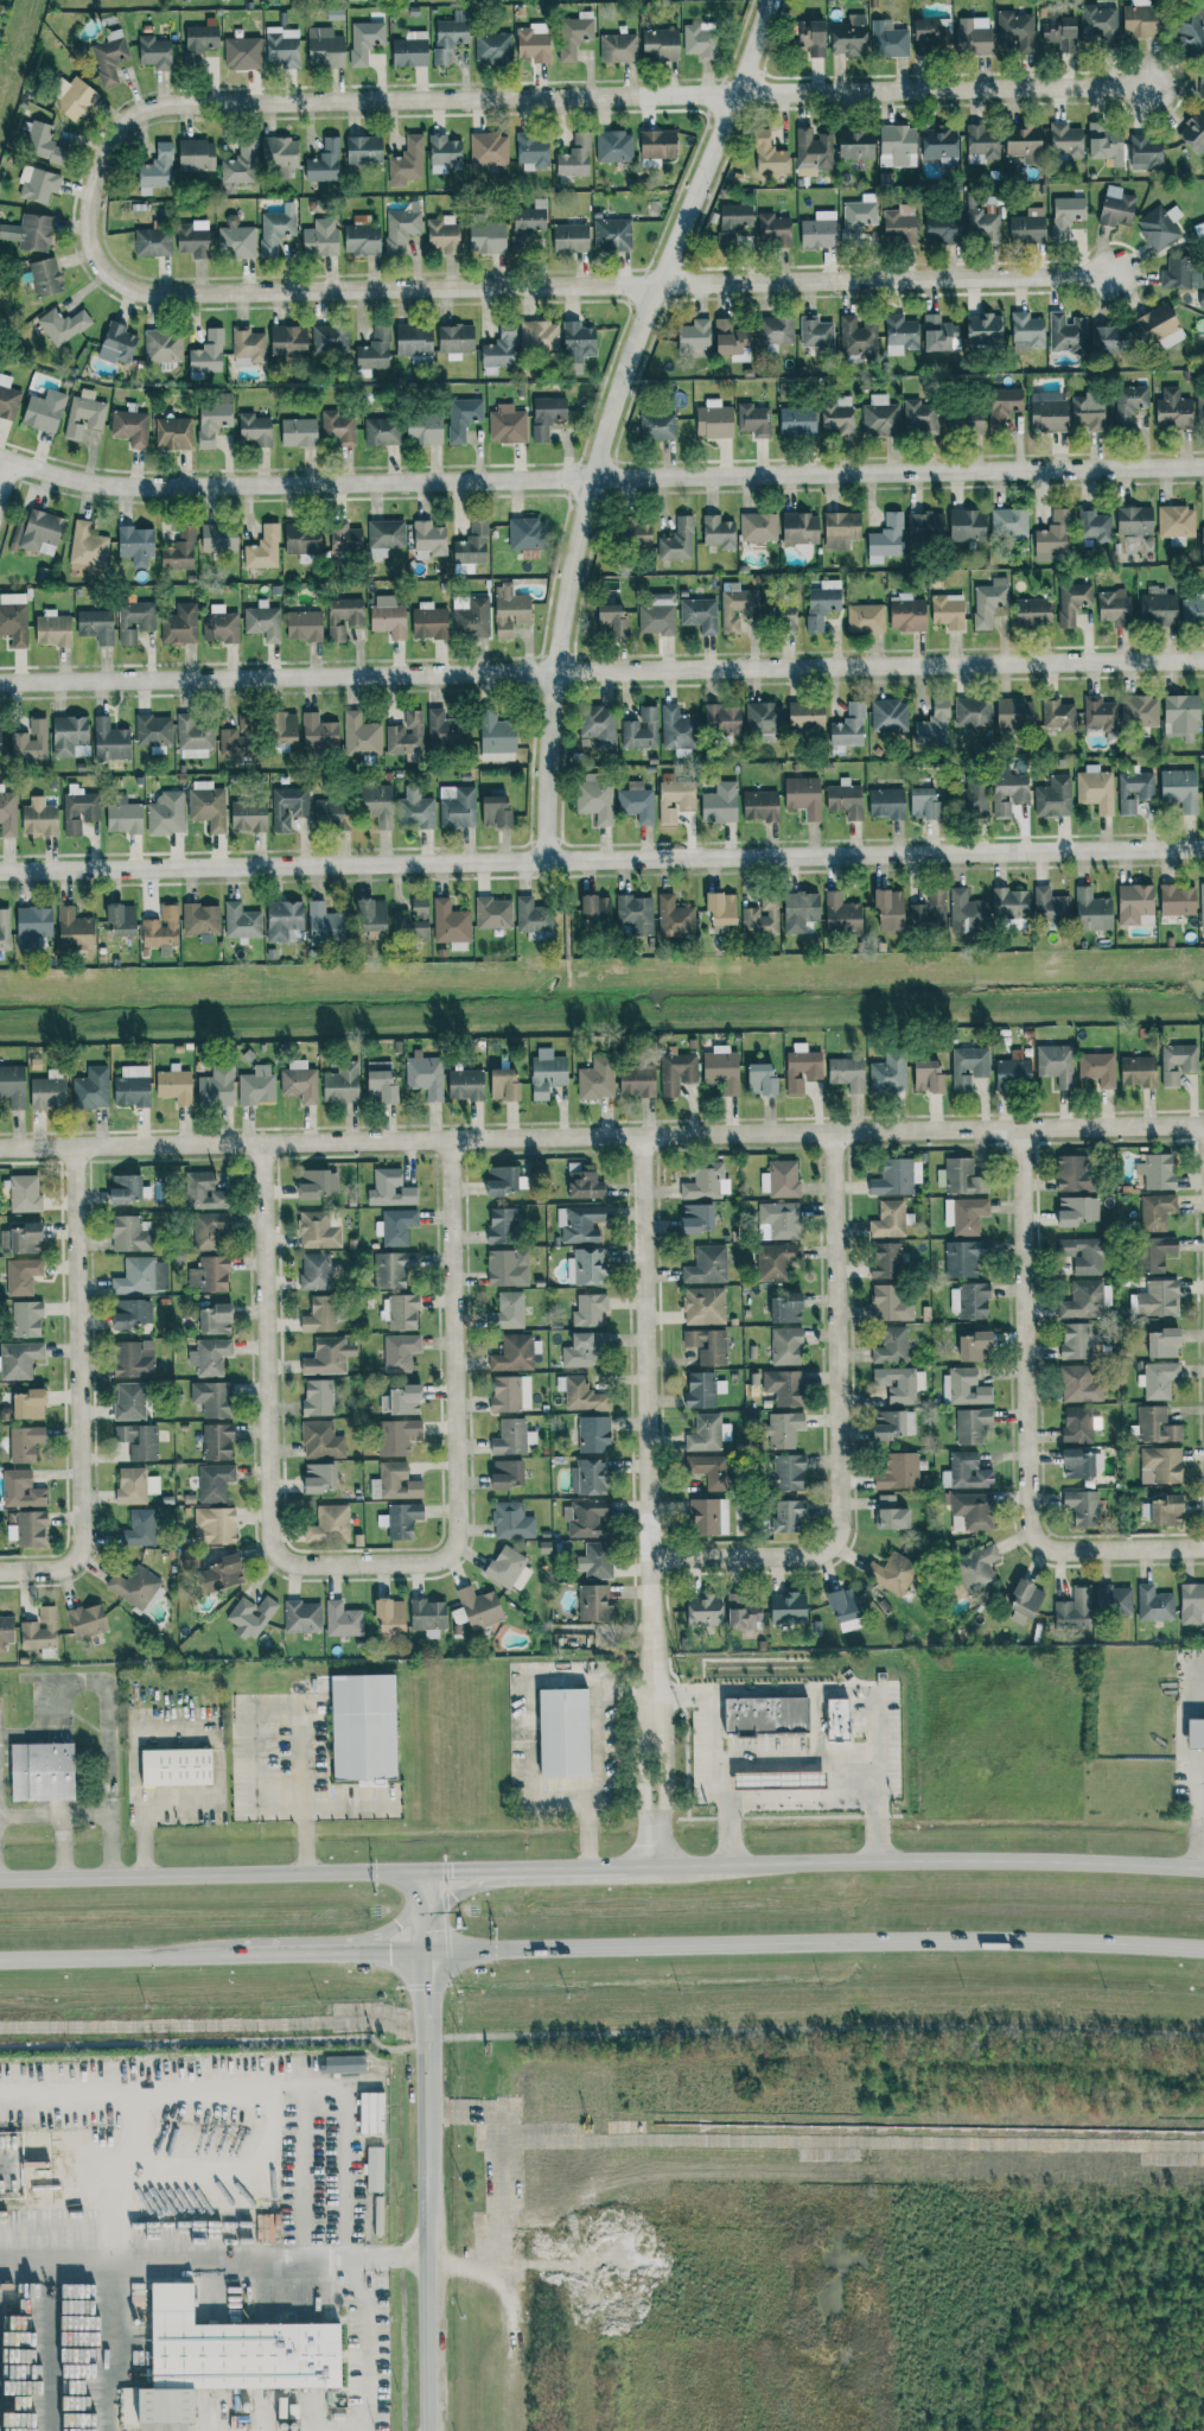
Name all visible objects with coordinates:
building: (1140, 19)
building: (1098, 24)
building: (1017, 30)
building: (1060, 32)
building: (1191, 32)
building: (928, 34)
building: (849, 36)
building: (450, 37)
building: (573, 37)
building: (810, 37)
building: (200, 38)
building: (973, 38)
building: (888, 39)
building: (364, 40)
building: (700, 40)
building: (660, 45)
building: (282, 46)
building: (492, 46)
building: (533, 46)
building: (325, 47)
building: (618, 47)
building: (154, 52)
building: (242, 52)
building: (409, 52)
building: (108, 58)
building: (1202, 80)
road: (945, 89)
building: (74, 97)
road: (393, 100)
building: (1193, 132)
building: (1065, 140)
building: (1104, 142)
building: (44, 144)
building: (657, 144)
building: (981, 144)
building: (1024, 144)
building: (855, 145)
building: (897, 145)
building: (941, 145)
building: (614, 146)
building: (489, 148)
building: (363, 150)
building: (533, 152)
building: (811, 152)
building: (1145, 152)
building: (280, 153)
building: (444, 153)
building: (195, 154)
building: (769, 154)
building: (575, 157)
building: (407, 161)
building: (324, 163)
building: (236, 169)
building: (157, 170)
building: (38, 185)
building: (1116, 207)
building: (1066, 215)
building: (859, 216)
building: (735, 217)
building: (530, 218)
building: (899, 224)
building: (982, 226)
building: (1027, 227)
building: (1159, 227)
building: (276, 229)
building: (400, 229)
building: (773, 229)
building: (942, 229)
building: (818, 230)
building: (30, 233)
building: (442, 233)
building: (613, 234)
building: (320, 237)
building: (488, 237)
building: (571, 237)
building: (192, 239)
building: (362, 239)
building: (153, 242)
building: (236, 242)
building: (1181, 273)
building: (45, 277)
road: (885, 280)
road: (331, 291)
building: (62, 325)
building: (1160, 326)
building: (983, 329)
building: (775, 330)
building: (1026, 331)
building: (1066, 332)
building: (816, 334)
building: (936, 334)
building: (900, 335)
building: (694, 336)
building: (539, 337)
building: (858, 337)
building: (330, 338)
building: (1109, 338)
building: (413, 339)
building: (288, 341)
building: (456, 341)
building: (731, 341)
building: (117, 343)
building: (576, 344)
building: (163, 345)
building: (248, 345)
building: (375, 349)
building: (498, 351)
building: (208, 353)
building: (8, 398)
building: (1129, 402)
building: (1004, 406)
building: (1200, 408)
building: (1173, 410)
building: (44, 411)
building: (1047, 411)
building: (1089, 411)
building: (84, 414)
building: (547, 415)
building: (836, 415)
building: (918, 415)
building: (463, 417)
building: (880, 417)
road: (611, 419)
building: (754, 419)
building: (214, 420)
building: (714, 420)
building: (797, 421)
building: (964, 421)
building: (508, 424)
building: (130, 426)
building: (657, 426)
building: (338, 427)
building: (255, 429)
building: (423, 429)
building: (382, 431)
building: (298, 432)
building: (173, 433)
road: (599, 475)
road: (7, 484)
building: (1134, 521)
building: (1176, 521)
building: (1009, 523)
building: (967, 525)
building: (1095, 525)
building: (925, 526)
building: (758, 527)
building: (841, 529)
building: (801, 531)
building: (719, 532)
building: (37, 533)
building: (524, 533)
building: (635, 533)
building: (387, 534)
building: (218, 537)
building: (1052, 537)
building: (344, 538)
building: (1203, 538)
building: (302, 539)
building: (428, 539)
building: (885, 539)
building: (679, 540)
building: (136, 545)
building: (87, 546)
building: (263, 548)
building: (471, 548)
building: (179, 551)
building: (989, 601)
building: (1072, 602)
building: (821, 607)
building: (1114, 607)
building: (1158, 607)
building: (738, 609)
building: (509, 610)
building: (948, 610)
building: (1032, 611)
building: (1192, 611)
building: (906, 612)
building: (657, 615)
building: (699, 615)
building: (781, 615)
building: (343, 616)
building: (388, 616)
building: (14, 618)
building: (472, 618)
building: (865, 618)
building: (611, 620)
building: (135, 621)
building: (263, 621)
building: (428, 622)
building: (180, 624)
building: (96, 626)
building: (304, 626)
building: (219, 627)
building: (52, 629)
road: (601, 672)
building: (1140, 710)
building: (973, 711)
building: (1014, 713)
building: (1100, 713)
building: (805, 715)
building: (890, 715)
building: (1058, 715)
building: (1180, 715)
building: (764, 717)
building: (722, 718)
building: (599, 724)
building: (934, 724)
building: (282, 726)
building: (444, 726)
building: (849, 726)
building: (152, 729)
building: (676, 729)
building: (641, 730)
building: (319, 731)
building: (406, 734)
building: (68, 735)
building: (361, 735)
building: (192, 737)
building: (496, 737)
building: (0, 738)
building: (109, 741)
building: (30, 742)
building: (235, 742)
building: (1179, 788)
building: (1095, 789)
building: (1008, 791)
building: (1134, 791)
building: (803, 796)
building: (973, 796)
building: (1053, 796)
building: (594, 798)
building: (675, 799)
building: (845, 799)
building: (636, 802)
building: (720, 802)
building: (886, 804)
building: (924, 804)
building: (208, 805)
building: (376, 805)
building: (287, 806)
building: (457, 806)
building: (760, 806)
building: (415, 808)
building: (78, 810)
building: (495, 812)
building: (7, 813)
building: (166, 813)
building: (332, 814)
building: (123, 815)
building: (248, 815)
building: (39, 819)
road: (601, 861)
building: (1177, 900)
building: (1009, 903)
building: (1134, 903)
building: (1202, 905)
building: (1051, 906)
building: (594, 907)
building: (721, 908)
building: (888, 909)
building: (800, 910)
building: (1092, 910)
building: (929, 912)
building: (967, 912)
building: (493, 913)
building: (636, 914)
building: (841, 914)
building: (371, 915)
building: (533, 915)
building: (674, 918)
building: (762, 918)
building: (200, 919)
building: (121, 920)
building: (284, 920)
building: (241, 921)
building: (413, 921)
building: (324, 923)
building: (451, 925)
building: (32, 926)
building: (161, 927)
building: (4, 929)
building: (74, 929)
building: (1177, 1062)
building: (1056, 1064)
building: (968, 1066)
building: (802, 1067)
building: (1097, 1068)
building: (722, 1071)
building: (1138, 1071)
building: (547, 1072)
building: (676, 1072)
building: (847, 1073)
building: (888, 1073)
building: (1013, 1073)
building: (425, 1074)
building: (926, 1075)
building: (595, 1080)
building: (637, 1080)
building: (760, 1080)
building: (299, 1081)
building: (342, 1083)
building: (382, 1083)
building: (465, 1084)
building: (503, 1084)
building: (13, 1085)
building: (174, 1085)
building: (256, 1085)
building: (132, 1086)
building: (216, 1087)
building: (91, 1088)
building: (49, 1091)
road: (642, 1137)
road: (40, 1150)
building: (1155, 1170)
building: (1072, 1174)
building: (894, 1178)
building: (963, 1178)
building: (781, 1179)
building: (502, 1180)
building: (702, 1181)
building: (317, 1183)
building: (584, 1185)
building: (128, 1188)
building: (390, 1188)
building: (203, 1192)
building: (24, 1193)
building: (1077, 1211)
building: (1155, 1212)
building: (964, 1214)
building: (697, 1218)
building: (781, 1219)
building: (888, 1219)
building: (579, 1223)
building: (395, 1226)
building: (503, 1226)
building: (209, 1230)
building: (318, 1231)
building: (129, 1234)
building: (21, 1238)
building: (1082, 1253)
building: (1154, 1253)
building: (961, 1259)
building: (776, 1261)
building: (707, 1265)
building: (584, 1267)
building: (508, 1268)
building: (389, 1270)
building: (316, 1271)
building: (210, 1274)
building: (21, 1276)
building: (135, 1277)
building: (888, 1284)
building: (1159, 1299)
building: (1083, 1300)
building: (970, 1301)
building: (703, 1306)
building: (786, 1308)
building: (588, 1309)
building: (508, 1312)
building: (130, 1313)
building: (320, 1315)
building: (26, 1319)
building: (216, 1320)
road: (452, 1340)
building: (1076, 1340)
building: (1162, 1343)
building: (707, 1345)
building: (785, 1346)
building: (891, 1346)
building: (973, 1346)
building: (580, 1351)
building: (400, 1352)
building: (514, 1353)
building: (329, 1356)
building: (210, 1357)
building: (19, 1359)
building: (133, 1359)
road: (270, 1365)
building: (1158, 1379)
building: (1079, 1384)
building: (784, 1386)
building: (964, 1386)
building: (703, 1389)
building: (510, 1394)
road: (82, 1395)
building: (584, 1395)
building: (318, 1397)
building: (212, 1398)
building: (129, 1401)
building: (401, 1401)
building: (28, 1404)
road: (1030, 1420)
building: (893, 1424)
building: (1078, 1424)
building: (972, 1426)
building: (1157, 1426)
building: (783, 1429)
building: (705, 1433)
road: (840, 1435)
building: (397, 1436)
building: (511, 1437)
building: (139, 1441)
building: (217, 1441)
building: (321, 1441)
building: (25, 1443)
building: (1077, 1464)
building: (1160, 1465)
building: (711, 1471)
building: (898, 1471)
building: (788, 1472)
building: (968, 1472)
building: (507, 1474)
building: (588, 1477)
building: (320, 1478)
building: (397, 1481)
building: (215, 1483)
building: (135, 1485)
building: (21, 1490)
road: (650, 1502)
building: (1082, 1506)
building: (1166, 1510)
building: (973, 1511)
building: (891, 1513)
building: (708, 1516)
building: (584, 1517)
building: (788, 1517)
building: (403, 1521)
building: (511, 1521)
building: (215, 1525)
building: (329, 1525)
building: (140, 1528)
building: (31, 1529)
building: (595, 1561)
road: (386, 1564)
building: (977, 1568)
building: (509, 1569)
building: (891, 1573)
building: (134, 1586)
building: (1024, 1601)
building: (1114, 1601)
building: (594, 1602)
building: (1191, 1602)
building: (1154, 1604)
building: (705, 1607)
building: (477, 1608)
building: (788, 1608)
building: (845, 1610)
building: (1074, 1610)
building: (743, 1612)
building: (390, 1614)
building: (250, 1616)
building: (302, 1617)
building: (428, 1617)
building: (88, 1620)
building: (343, 1620)
building: (40, 1630)
building: (6, 1631)
road: (1203, 1659)
road: (93, 1678)
road: (853, 1687)
building: (765, 1715)
building: (836, 1720)
road: (254, 1721)
road: (813, 1725)
building: (363, 1728)
building: (563, 1733)
building: (1195, 1733)
road: (795, 1762)
building: (176, 1766)
building: (42, 1771)
building: (778, 1781)
road: (714, 1782)
road: (804, 1800)
road: (88, 1811)
road: (154, 1815)
road: (1199, 1823)
road: (62, 1846)
road: (913, 1861)
road: (567, 1868)
road: (466, 1870)
traffic signals: (452, 1871)
road: (211, 1875)
road: (464, 1890)
traffic signals: (454, 1894)
road: (425, 1911)
traffic signals: (396, 1923)
road: (378, 1930)
road: (764, 1944)
traffic signals: (389, 1953)
road: (273, 1954)
road: (110, 1957)
traffic signals: (427, 1992)
road: (427, 2008)
road: (599, 2033)
building: (343, 2064)
road: (255, 2086)
building: (374, 2169)
building: (378, 2216)
road: (429, 2247)
road: (215, 2257)
road: (365, 2340)
building: (222, 2359)
building: (81, 2419)

